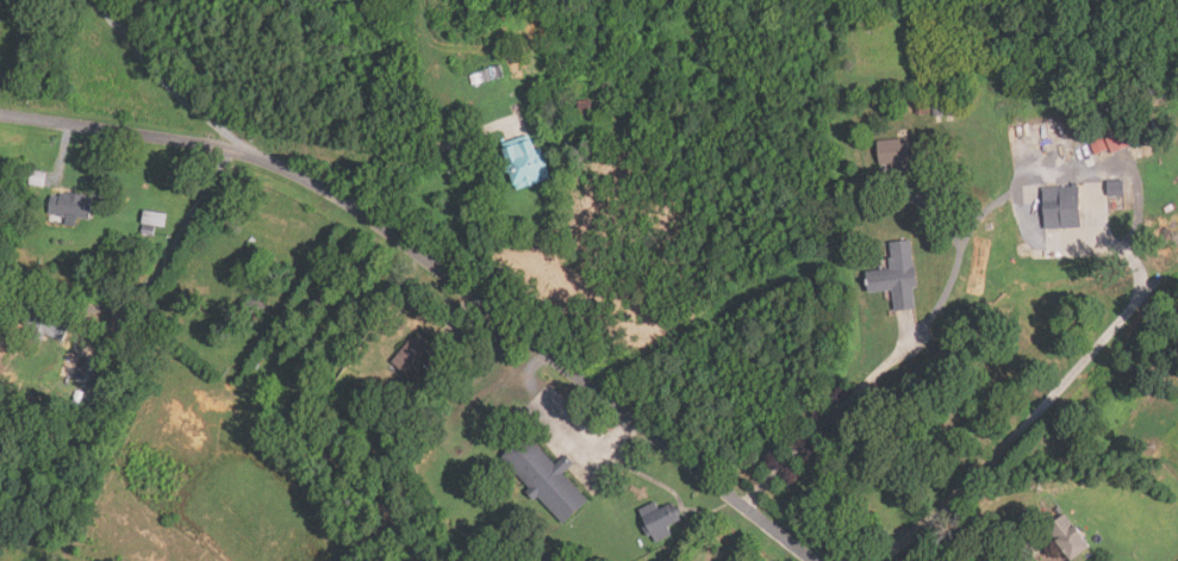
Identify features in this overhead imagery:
road: (141, 13)
building: (541, 21)
building: (516, 64)
building: (498, 71)
building: (486, 75)
building: (475, 79)
road: (167, 85)
building: (585, 107)
building: (950, 108)
building: (937, 110)
building: (923, 111)
building: (1104, 114)
building: (1152, 131)
building: (1118, 142)
building: (1098, 145)
road: (422, 155)
building: (897, 156)
building: (525, 163)
building: (38, 179)
building: (1117, 188)
building: (70, 207)
building: (1064, 207)
building: (155, 219)
building: (263, 226)
road: (172, 249)
road: (435, 269)
building: (898, 276)
building: (324, 300)
building: (256, 305)
building: (46, 324)
building: (413, 356)
building: (267, 357)
building: (91, 372)
road: (864, 385)
building: (366, 399)
road: (1023, 429)
building: (547, 479)
building: (660, 521)
building: (1068, 537)
building: (553, 557)
road: (1023, 559)

